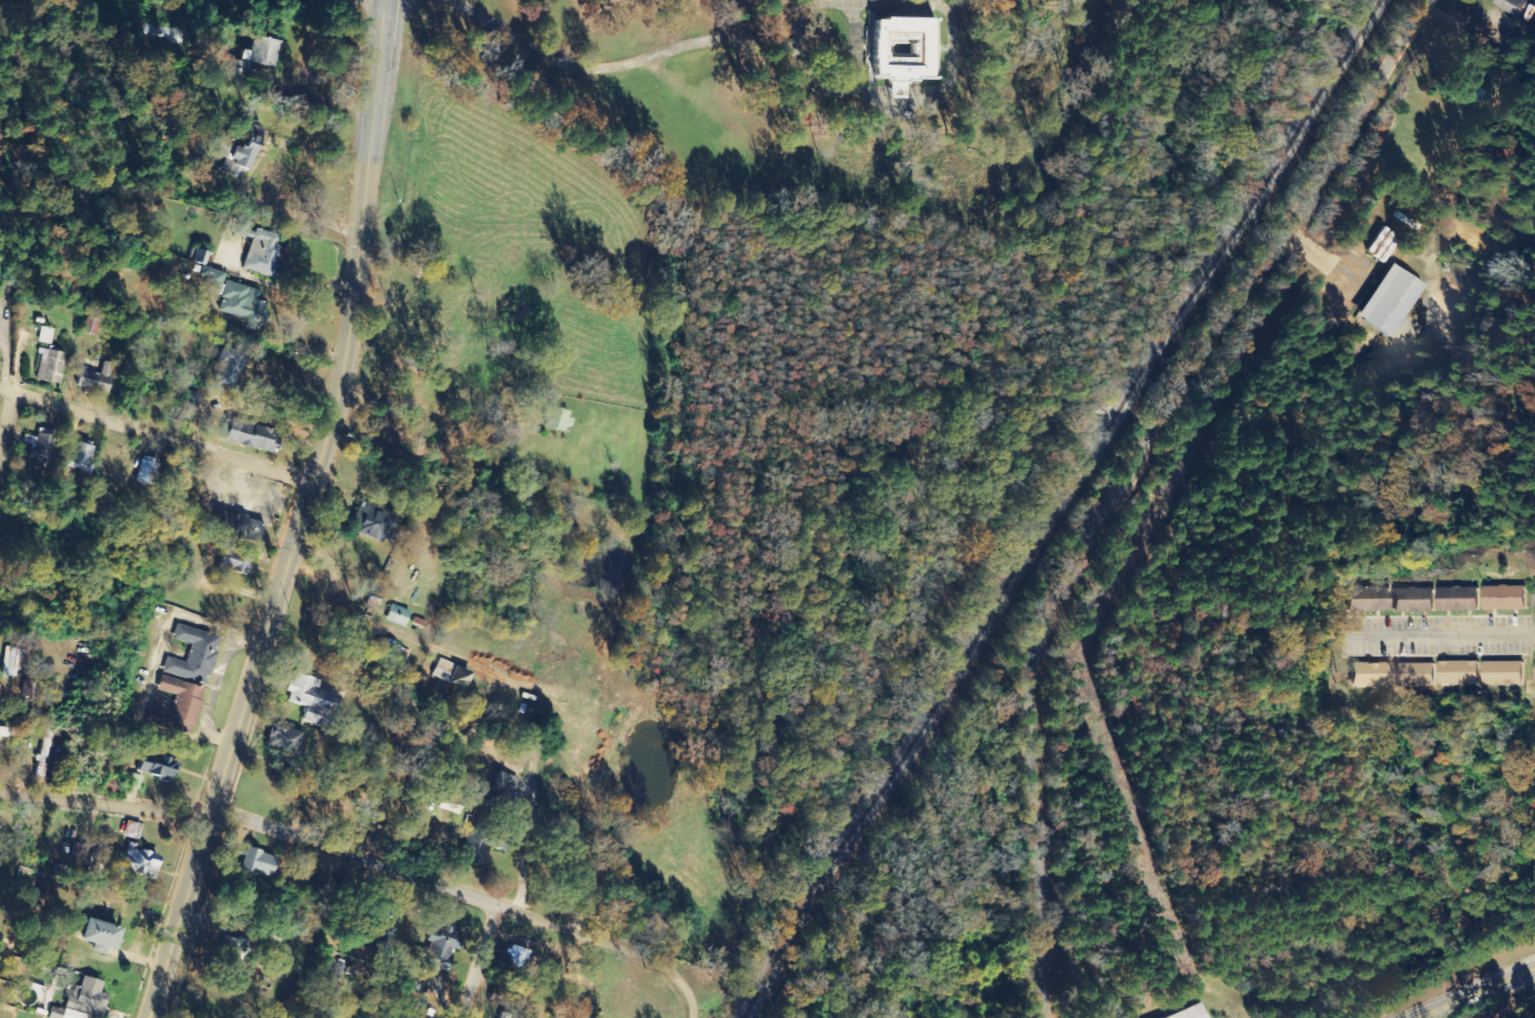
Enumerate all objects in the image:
building: (1510, 6)
road: (932, 14)
building: (178, 38)
building: (900, 51)
building: (255, 54)
road: (592, 74)
building: (239, 152)
building: (256, 250)
building: (198, 257)
building: (212, 278)
building: (1386, 301)
building: (242, 305)
building: (43, 335)
building: (47, 366)
building: (224, 368)
building: (93, 379)
building: (554, 419)
road: (5, 426)
road: (153, 436)
building: (249, 436)
building: (42, 446)
building: (77, 456)
building: (145, 472)
road: (1129, 475)
railway: (1060, 508)
road: (296, 516)
building: (370, 524)
building: (237, 527)
building: (233, 562)
building: (1503, 598)
building: (1366, 600)
building: (1456, 600)
building: (1411, 601)
building: (396, 616)
road: (1441, 643)
building: (191, 654)
building: (11, 662)
building: (1458, 673)
building: (1502, 674)
building: (1369, 675)
building: (1414, 675)
building: (455, 679)
building: (309, 700)
building: (175, 707)
building: (5, 732)
building: (282, 739)
building: (153, 768)
building: (444, 804)
building: (131, 831)
road: (308, 846)
building: (472, 854)
building: (139, 862)
building: (256, 863)
building: (95, 935)
building: (378, 935)
building: (432, 954)
building: (517, 959)
road: (655, 959)
road: (479, 962)
road: (1472, 991)
building: (84, 1000)
road: (694, 1002)
building: (1189, 1013)

